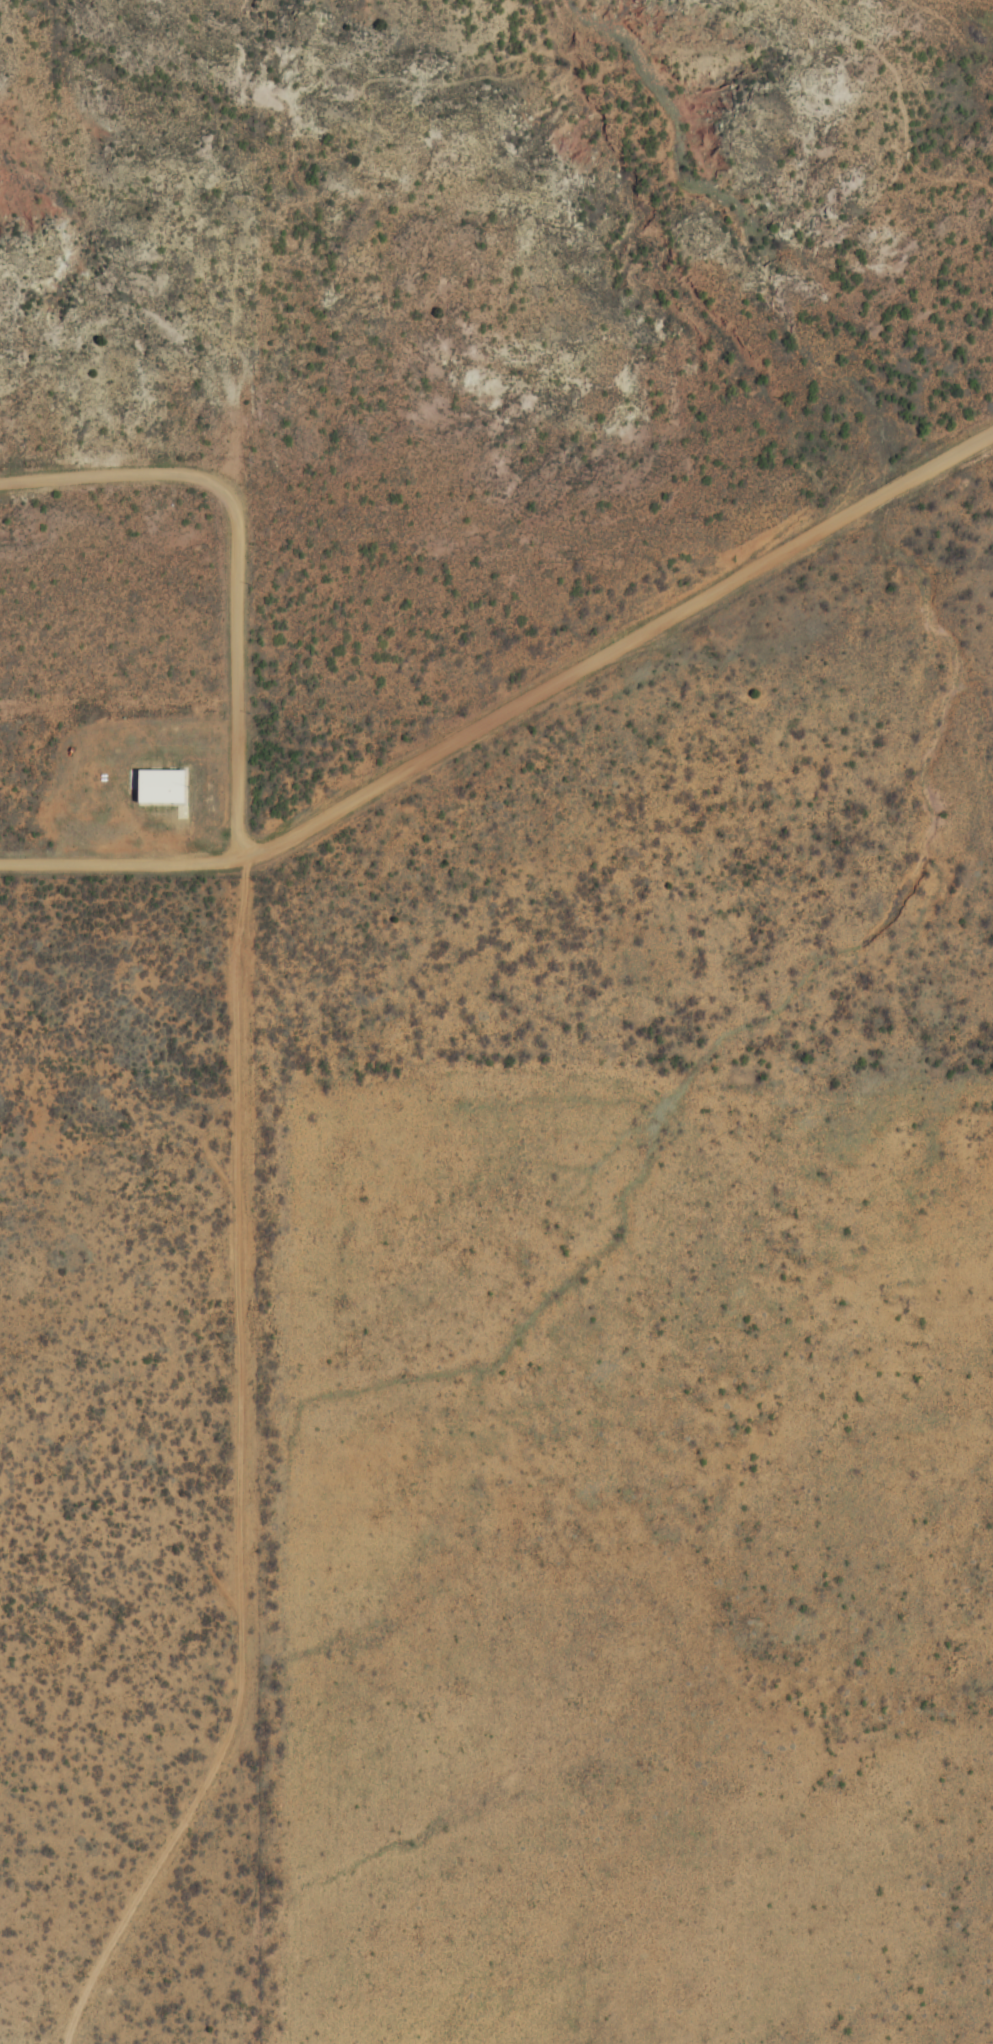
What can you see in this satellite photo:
road: (243, 560)
road: (511, 718)
building: (154, 788)

